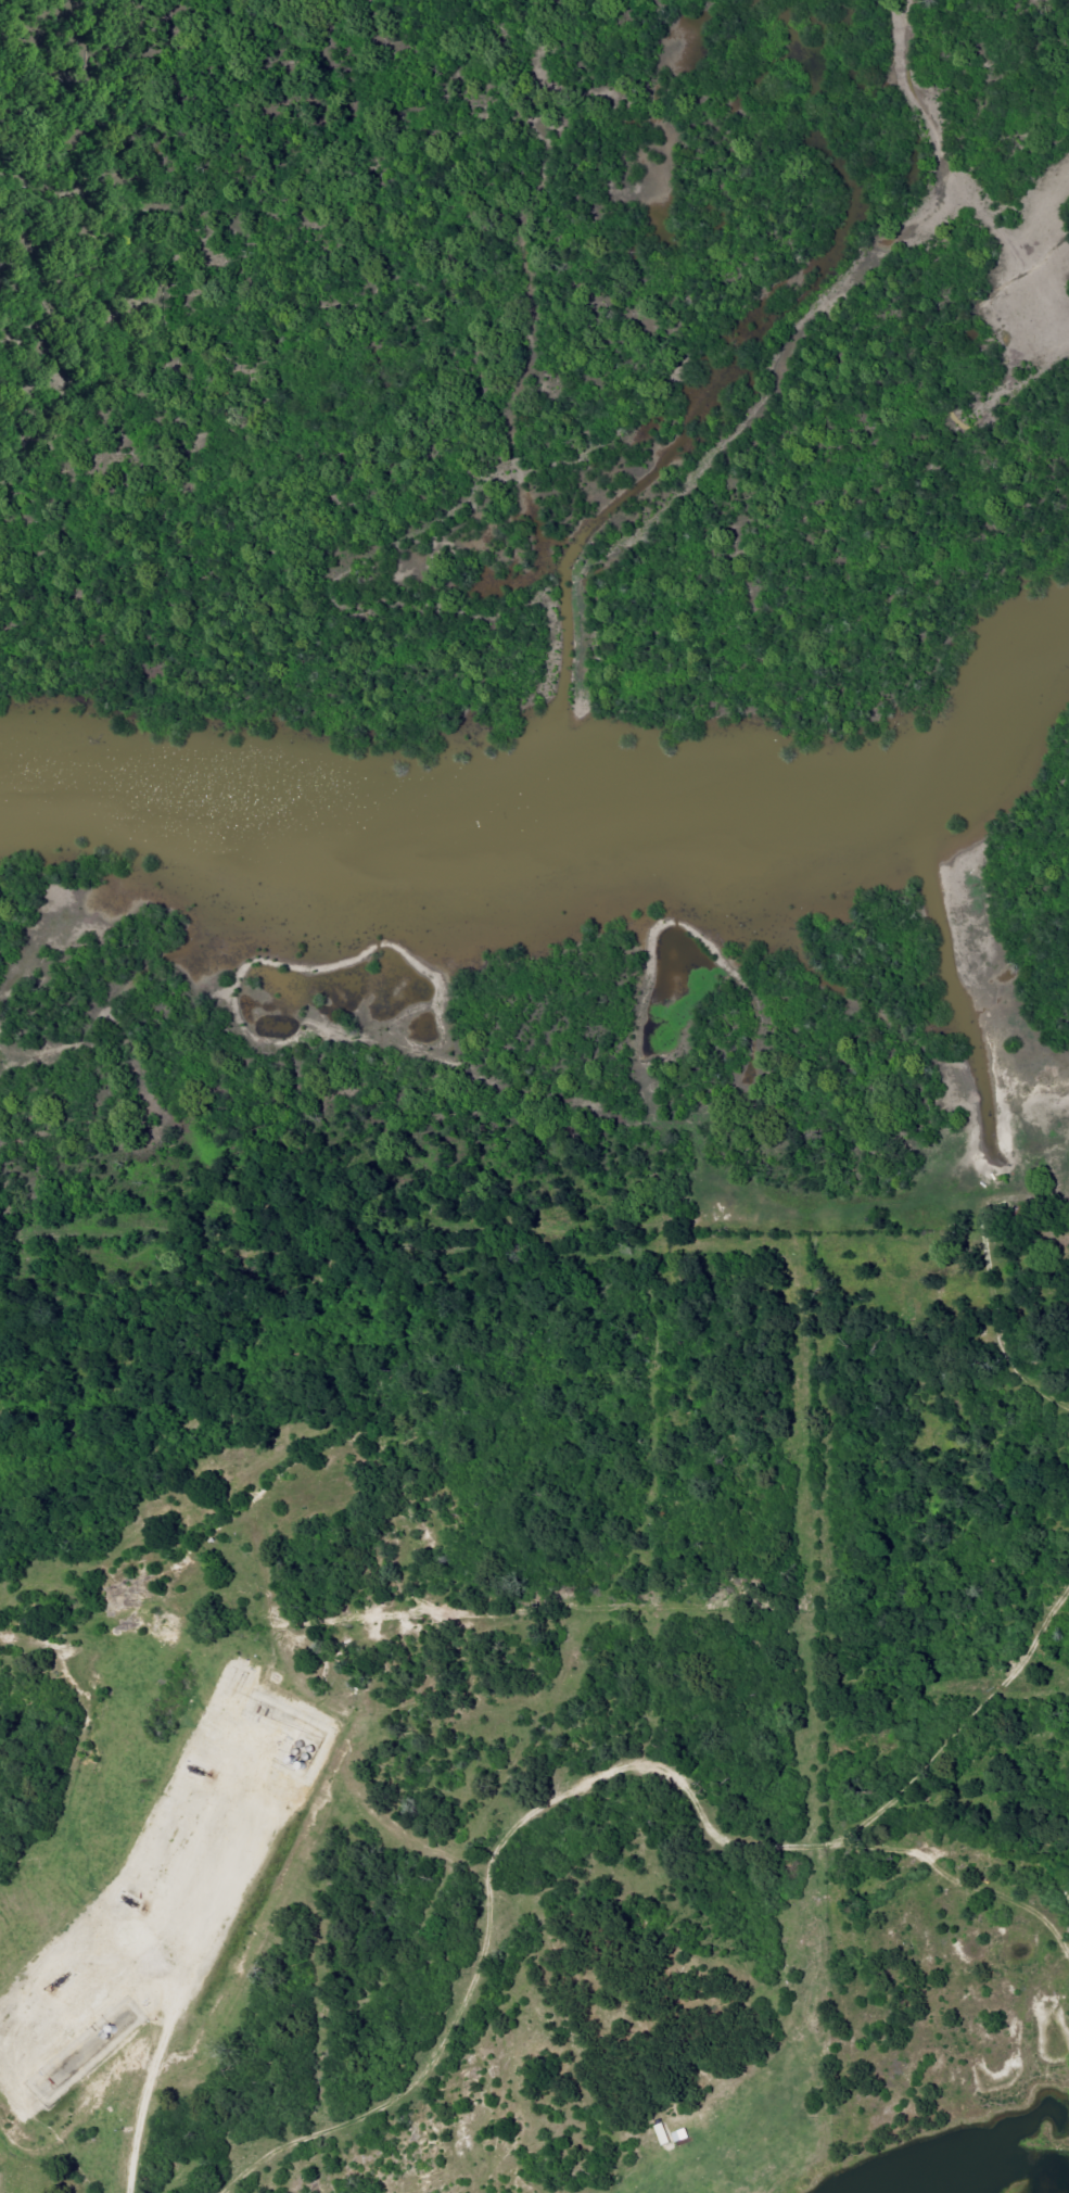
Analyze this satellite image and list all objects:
road: (148, 2101)

